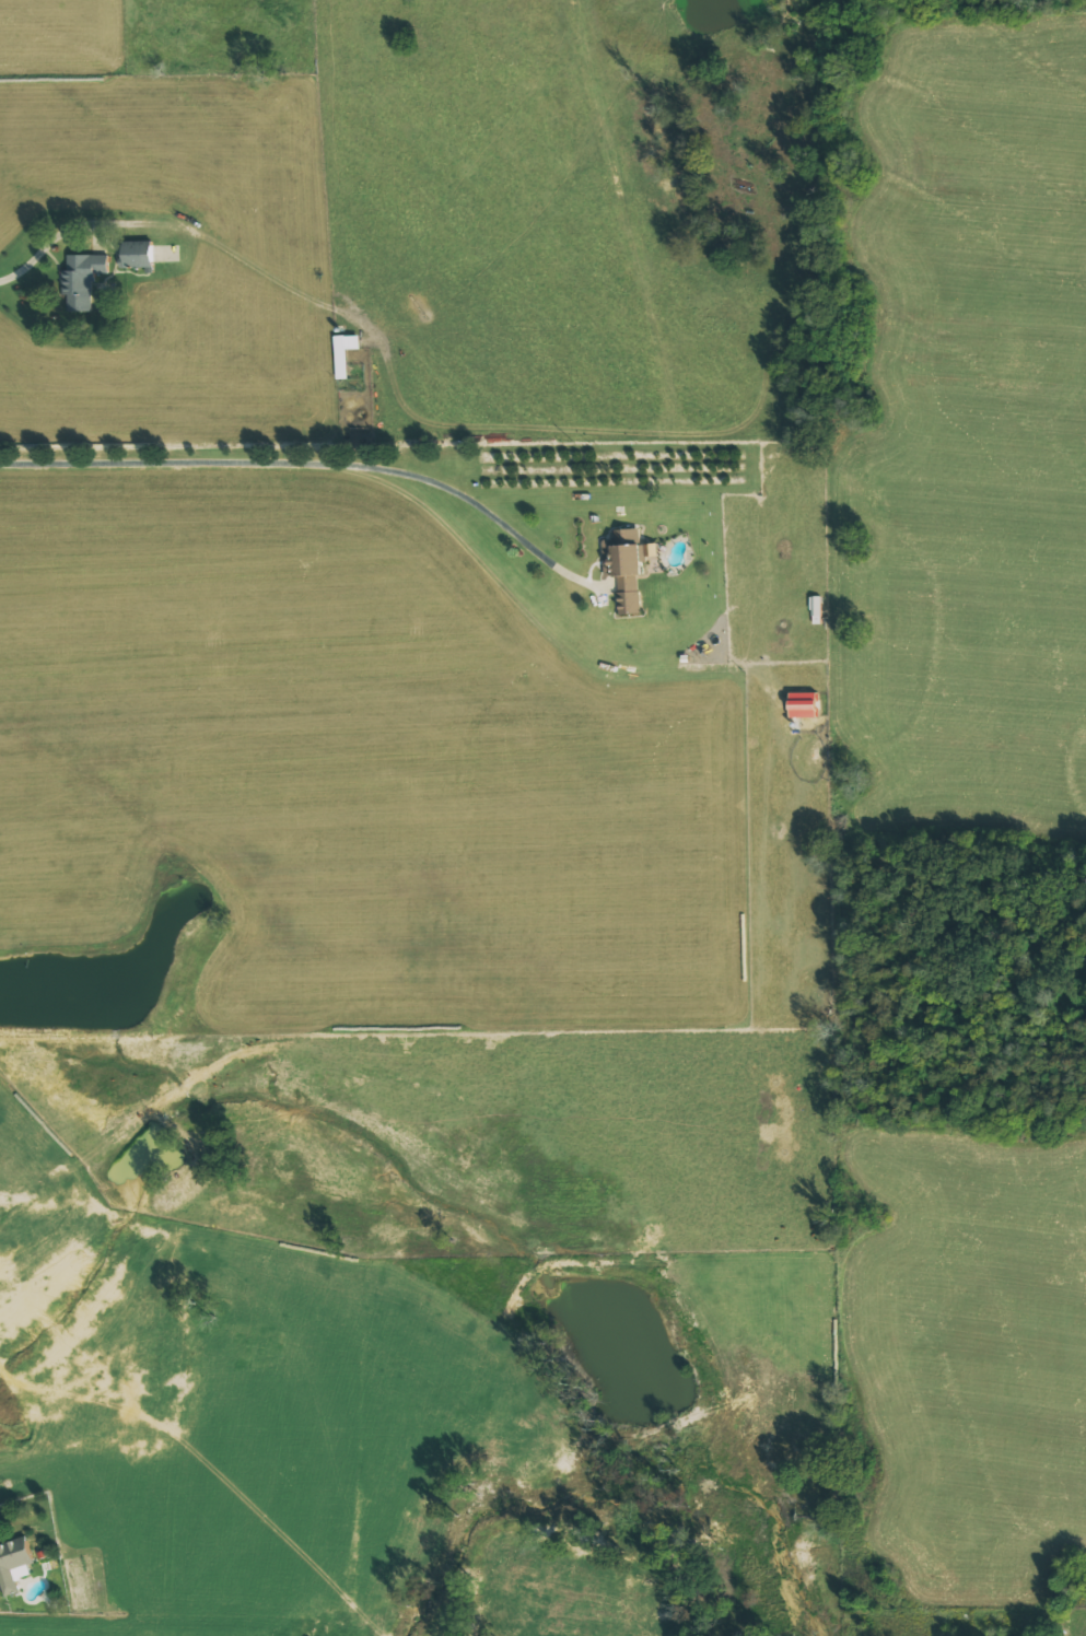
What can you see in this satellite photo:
building: (137, 255)
building: (83, 280)
building: (343, 352)
building: (627, 565)
building: (803, 704)
building: (811, 759)
building: (17, 1564)

